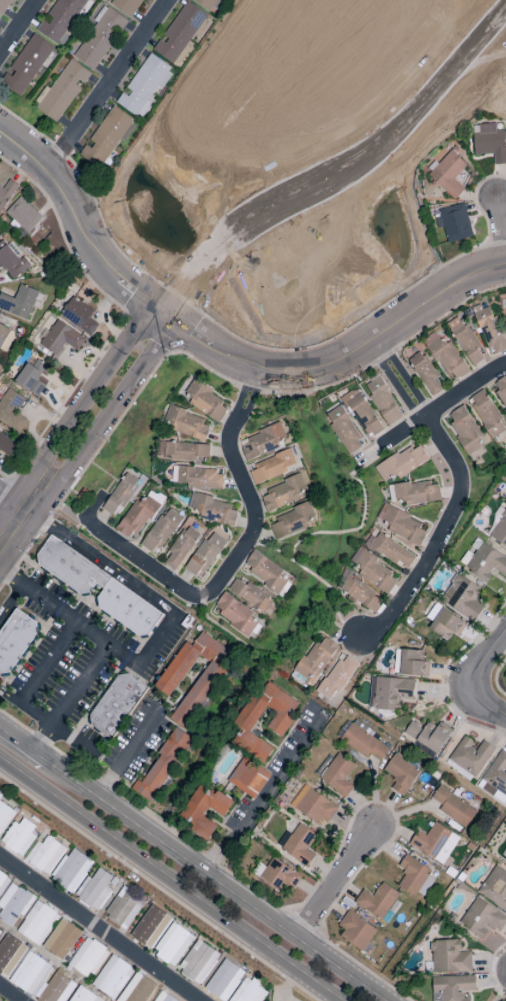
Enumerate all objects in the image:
building: (209, 4)
building: (4, 6)
building: (127, 6)
building: (60, 19)
road: (20, 27)
building: (179, 33)
building: (99, 38)
building: (26, 65)
road: (109, 84)
building: (145, 86)
building: (62, 91)
building: (105, 137)
building: (490, 143)
road: (356, 162)
building: (448, 173)
building: (6, 194)
road: (76, 207)
building: (23, 215)
building: (453, 222)
road: (500, 232)
building: (11, 261)
building: (18, 302)
building: (79, 316)
building: (490, 330)
road: (144, 336)
building: (5, 337)
building: (61, 338)
building: (467, 342)
road: (353, 356)
building: (449, 359)
building: (426, 373)
building: (32, 377)
building: (500, 390)
building: (205, 401)
building: (383, 401)
road: (443, 407)
building: (11, 410)
building: (362, 413)
building: (487, 414)
building: (186, 424)
building: (344, 430)
building: (465, 430)
building: (262, 442)
building: (7, 445)
road: (73, 445)
building: (186, 451)
building: (402, 463)
building: (272, 467)
building: (198, 478)
building: (284, 493)
building: (415, 493)
road: (462, 494)
building: (505, 499)
road: (13, 502)
building: (215, 511)
building: (139, 516)
building: (292, 522)
building: (402, 525)
building: (499, 530)
building: (161, 531)
building: (181, 548)
road: (244, 549)
building: (391, 550)
building: (205, 555)
building: (266, 572)
building: (374, 572)
road: (127, 581)
building: (80, 585)
road: (70, 593)
building: (359, 593)
road: (74, 594)
building: (250, 595)
building: (463, 598)
road: (12, 602)
road: (63, 602)
building: (236, 614)
road: (54, 615)
building: (445, 623)
building: (15, 639)
road: (138, 641)
road: (498, 642)
road: (108, 646)
road: (26, 654)
road: (126, 656)
road: (124, 657)
parking lot: (66, 658)
building: (317, 660)
building: (413, 663)
building: (336, 677)
building: (209, 678)
road: (37, 680)
road: (484, 689)
building: (389, 692)
road: (11, 694)
road: (100, 696)
building: (117, 704)
building: (249, 718)
road: (77, 728)
building: (428, 735)
road: (75, 739)
building: (363, 741)
road: (22, 745)
building: (471, 756)
road: (126, 758)
building: (162, 766)
building: (401, 774)
building: (338, 775)
building: (248, 777)
road: (262, 794)
building: (315, 807)
building: (453, 807)
building: (205, 811)
building: (5, 816)
building: (19, 836)
building: (435, 843)
building: (299, 844)
building: (44, 855)
building: (504, 856)
building: (72, 870)
building: (279, 876)
road: (171, 878)
building: (415, 878)
road: (215, 879)
building: (3, 882)
road: (338, 885)
building: (495, 887)
building: (95, 890)
building: (377, 900)
building: (14, 905)
building: (124, 908)
building: (482, 919)
building: (38, 923)
building: (151, 927)
road: (98, 928)
building: (0, 929)
building: (357, 932)
building: (61, 940)
building: (173, 945)
building: (9, 954)
building: (450, 957)
building: (88, 958)
building: (198, 963)
building: (29, 974)
building: (112, 977)
building: (224, 980)
building: (453, 987)
building: (54, 989)
building: (137, 989)
building: (248, 992)
road: (500, 992)
road: (10, 993)
building: (82, 995)
building: (163, 997)
building: (0, 1000)

